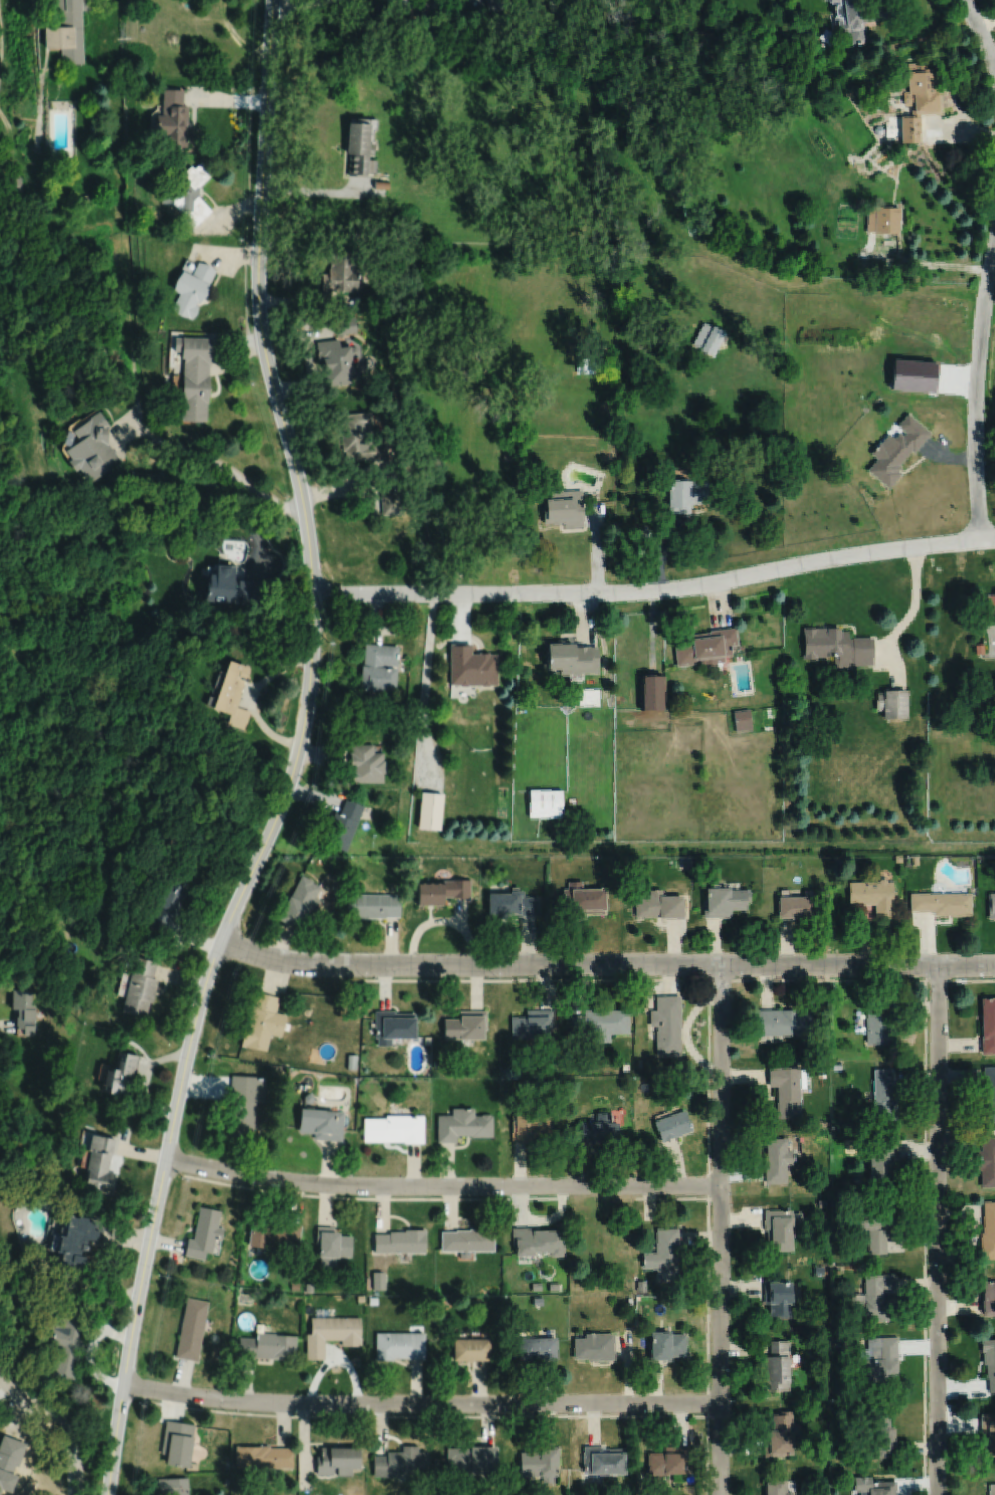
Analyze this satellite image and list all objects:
road: (295, 3)
building: (496, 4)
road: (479, 5)
road: (422, 6)
building: (858, 17)
road: (986, 24)
building: (65, 29)
road: (981, 33)
road: (1, 45)
road: (225, 99)
building: (916, 103)
building: (171, 119)
road: (959, 134)
road: (12, 139)
building: (358, 148)
building: (380, 184)
building: (15, 188)
road: (323, 190)
building: (187, 194)
road: (229, 212)
building: (883, 221)
road: (224, 254)
road: (923, 265)
building: (339, 272)
building: (191, 288)
road: (306, 301)
building: (344, 326)
building: (709, 338)
road: (238, 339)
building: (335, 360)
road: (307, 363)
building: (592, 365)
building: (913, 375)
building: (193, 376)
road: (976, 393)
road: (142, 422)
building: (359, 438)
building: (90, 447)
building: (896, 452)
building: (507, 455)
road: (948, 456)
building: (779, 462)
road: (348, 485)
building: (686, 495)
building: (390, 503)
building: (564, 508)
road: (235, 512)
road: (663, 551)
building: (232, 587)
road: (655, 591)
building: (990, 609)
road: (587, 618)
road: (907, 619)
road: (653, 632)
building: (837, 647)
building: (706, 648)
building: (979, 649)
building: (573, 659)
building: (471, 666)
building: (378, 667)
road: (425, 691)
building: (653, 693)
building: (231, 694)
road: (250, 696)
building: (892, 704)
building: (744, 721)
road: (294, 757)
building: (364, 764)
road: (313, 795)
building: (545, 804)
building: (429, 811)
building: (341, 825)
building: (898, 860)
building: (414, 862)
building: (916, 862)
building: (688, 863)
building: (440, 891)
building: (873, 897)
building: (164, 902)
building: (583, 902)
building: (726, 903)
building: (299, 905)
building: (941, 905)
building: (371, 906)
building: (511, 906)
building: (660, 907)
building: (992, 907)
building: (797, 909)
building: (330, 910)
road: (461, 913)
road: (441, 920)
road: (605, 965)
street lamp: (738, 976)
street lamp: (923, 978)
road: (679, 980)
building: (138, 986)
building: (24, 1007)
building: (260, 1019)
building: (784, 1022)
building: (466, 1023)
building: (532, 1023)
building: (601, 1023)
building: (879, 1023)
building: (392, 1024)
building: (667, 1024)
building: (988, 1024)
road: (686, 1033)
building: (351, 1059)
building: (436, 1062)
building: (837, 1065)
building: (625, 1067)
building: (502, 1070)
building: (119, 1072)
road: (145, 1076)
building: (788, 1089)
building: (988, 1093)
building: (885, 1094)
building: (308, 1096)
building: (244, 1101)
building: (321, 1121)
building: (823, 1122)
building: (464, 1123)
building: (530, 1126)
building: (673, 1126)
building: (394, 1127)
building: (599, 1129)
street lamp: (929, 1129)
road: (133, 1150)
building: (777, 1160)
building: (883, 1160)
building: (987, 1161)
building: (99, 1163)
street lamp: (499, 1175)
street lamp: (634, 1175)
street lamp: (179, 1179)
building: (823, 1183)
street lamp: (249, 1184)
road: (442, 1184)
street lamp: (732, 1193)
street lamp: (364, 1194)
road: (374, 1196)
road: (672, 1198)
building: (823, 1203)
road: (539, 1220)
building: (877, 1225)
building: (781, 1228)
road: (722, 1229)
road: (939, 1230)
building: (203, 1232)
building: (988, 1232)
building: (273, 1234)
road: (708, 1237)
road: (925, 1237)
building: (468, 1239)
building: (401, 1240)
building: (538, 1241)
building: (74, 1243)
building: (332, 1244)
building: (664, 1255)
road: (99, 1258)
street lamp: (928, 1264)
building: (861, 1267)
building: (819, 1271)
street lamp: (159, 1277)
building: (240, 1279)
building: (378, 1279)
building: (294, 1284)
building: (309, 1286)
building: (641, 1286)
building: (536, 1287)
building: (554, 1287)
building: (375, 1291)
building: (361, 1296)
building: (880, 1297)
building: (779, 1298)
building: (989, 1298)
building: (372, 1299)
building: (857, 1300)
building: (630, 1301)
building: (538, 1302)
building: (191, 1328)
building: (331, 1332)
building: (839, 1340)
building: (67, 1341)
building: (399, 1344)
building: (267, 1345)
building: (666, 1346)
building: (594, 1347)
road: (89, 1348)
building: (472, 1348)
building: (539, 1349)
road: (334, 1358)
building: (883, 1360)
building: (990, 1362)
building: (779, 1366)
road: (5, 1388)
street lamp: (732, 1400)
street lamp: (929, 1401)
road: (421, 1402)
street lamp: (137, 1405)
street lamp: (364, 1412)
street lamp: (501, 1412)
street lamp: (229, 1413)
street lamp: (642, 1413)
road: (422, 1414)
road: (65, 1416)
building: (989, 1434)
building: (882, 1435)
building: (780, 1437)
building: (176, 1442)
building: (262, 1457)
building: (473, 1458)
building: (338, 1459)
building: (401, 1461)
building: (603, 1462)
building: (669, 1462)
building: (226, 1463)
building: (10, 1464)
building: (540, 1464)
building: (226, 1481)
building: (172, 1486)
building: (777, 1487)
building: (875, 1487)
building: (992, 1490)

